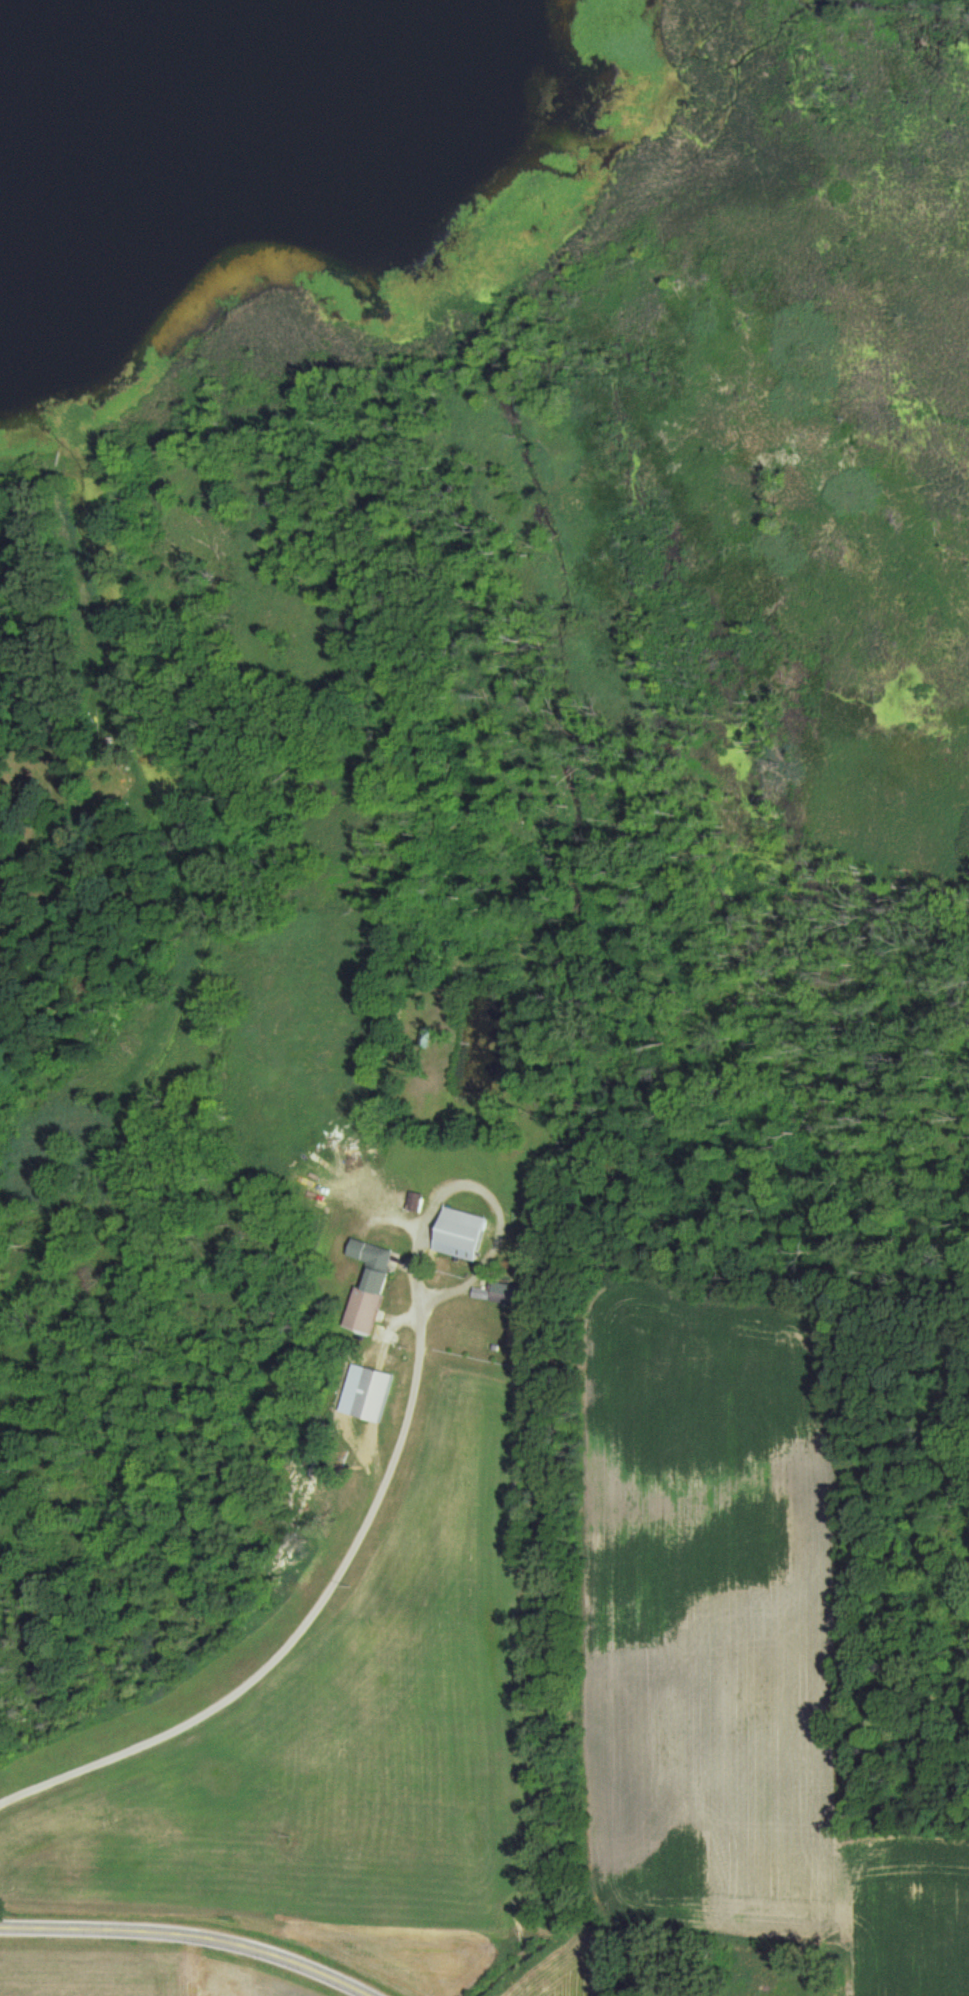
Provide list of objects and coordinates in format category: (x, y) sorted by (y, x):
building: (462, 1234)
building: (368, 1284)
building: (510, 1293)
building: (375, 1394)
road: (195, 1933)
building: (855, 1993)

